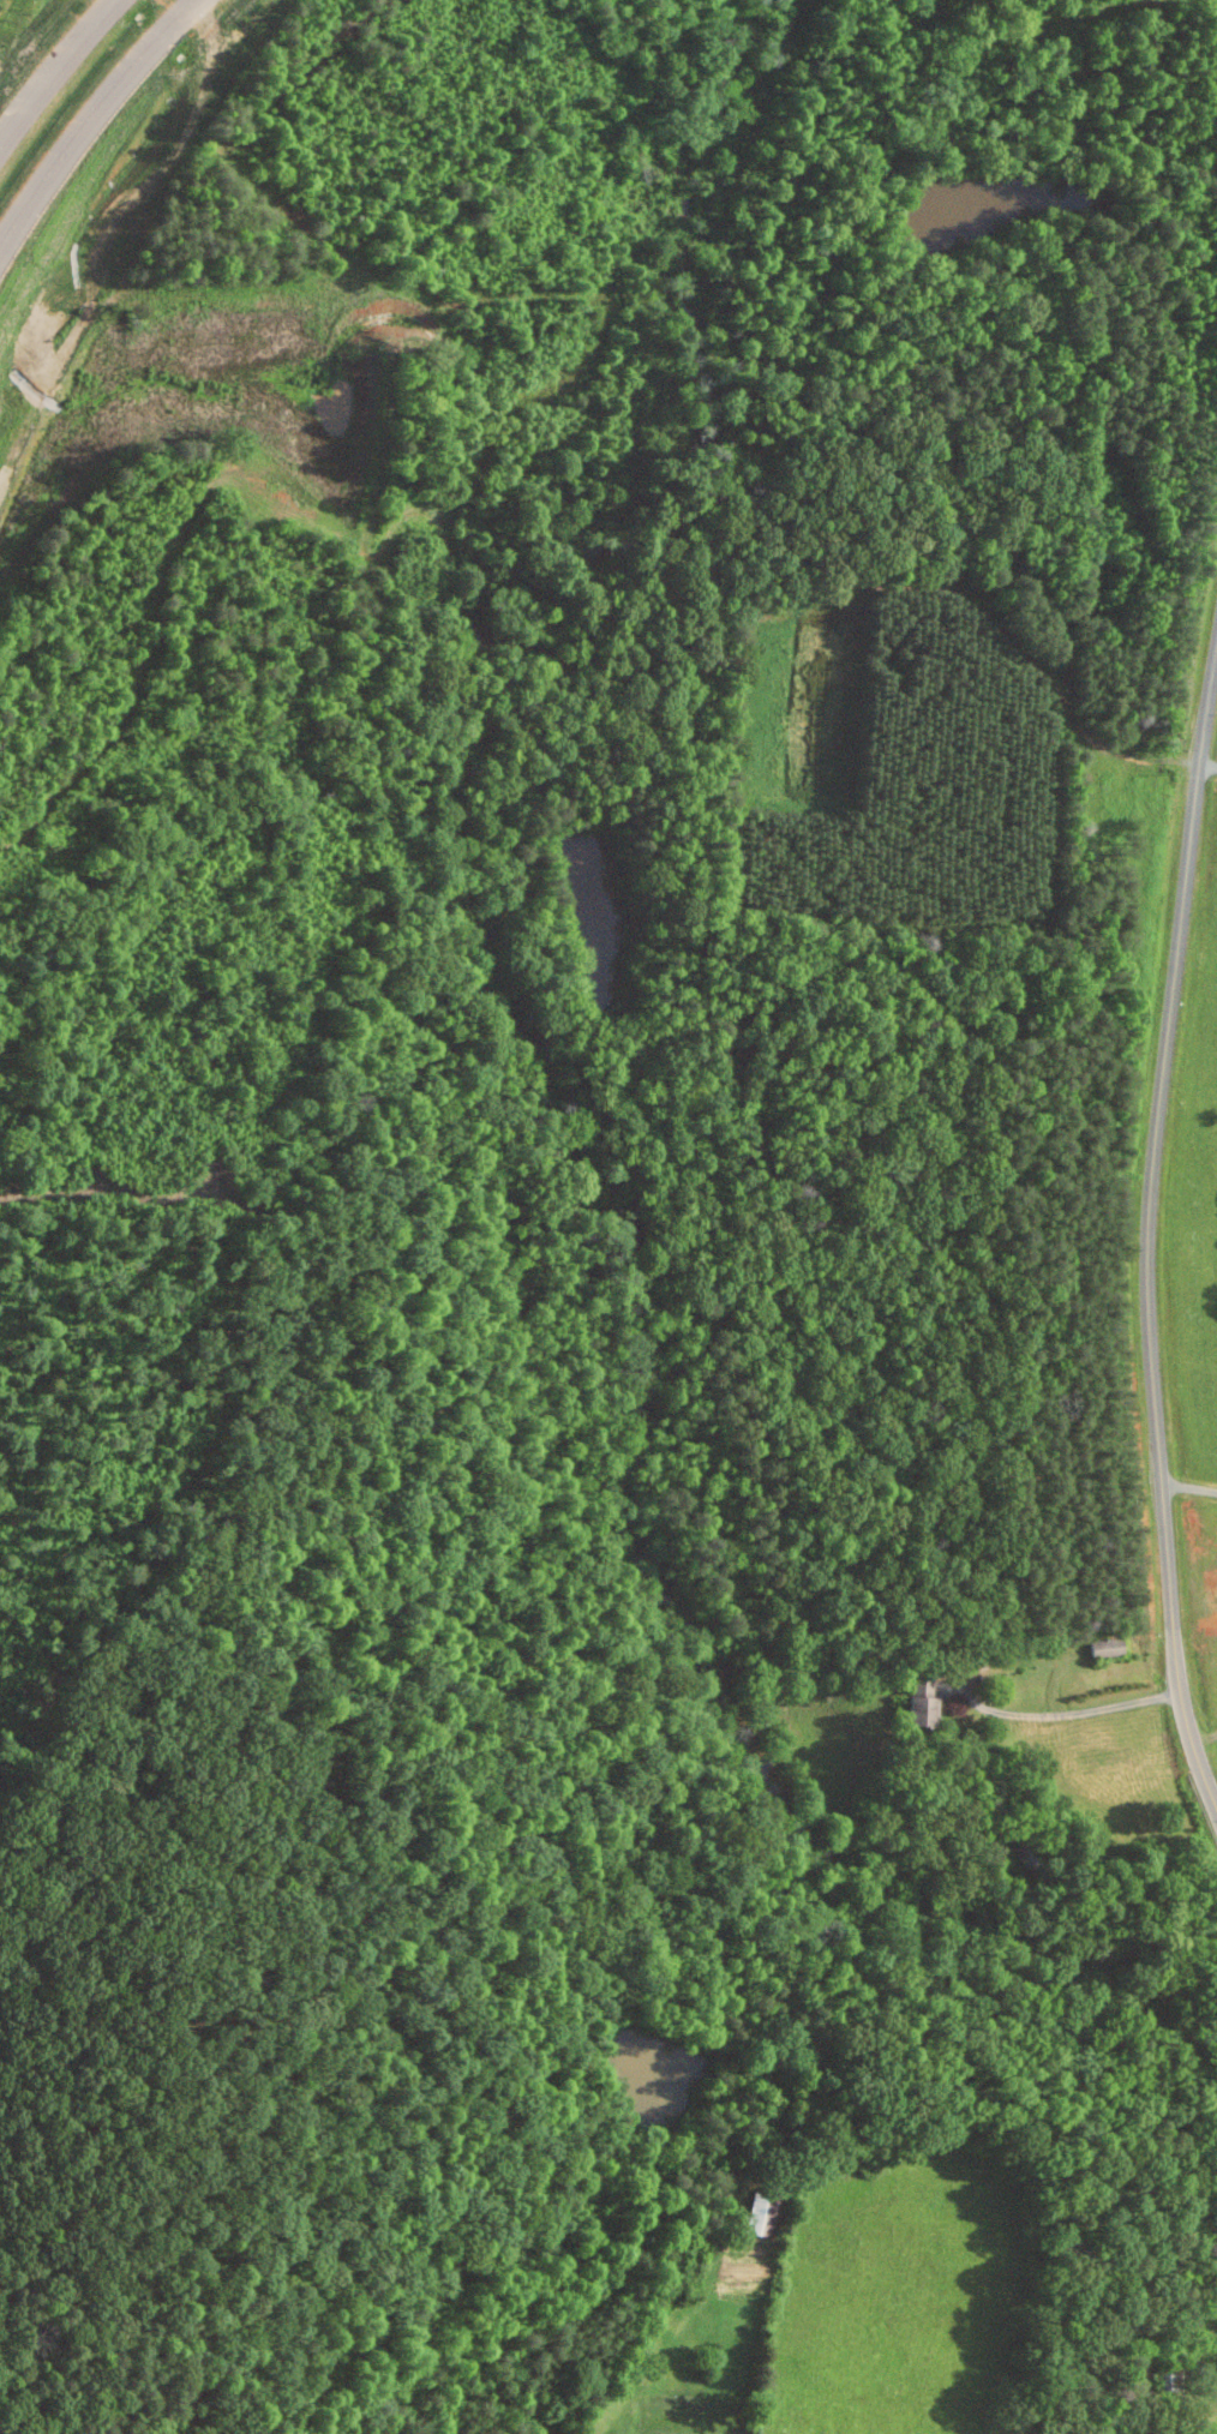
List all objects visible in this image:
road: (56, 70)
road: (90, 113)
road: (1216, 657)
road: (1209, 767)
road: (1149, 1231)
road: (1188, 1485)
building: (1104, 1647)
building: (919, 1710)
road: (1072, 1714)

